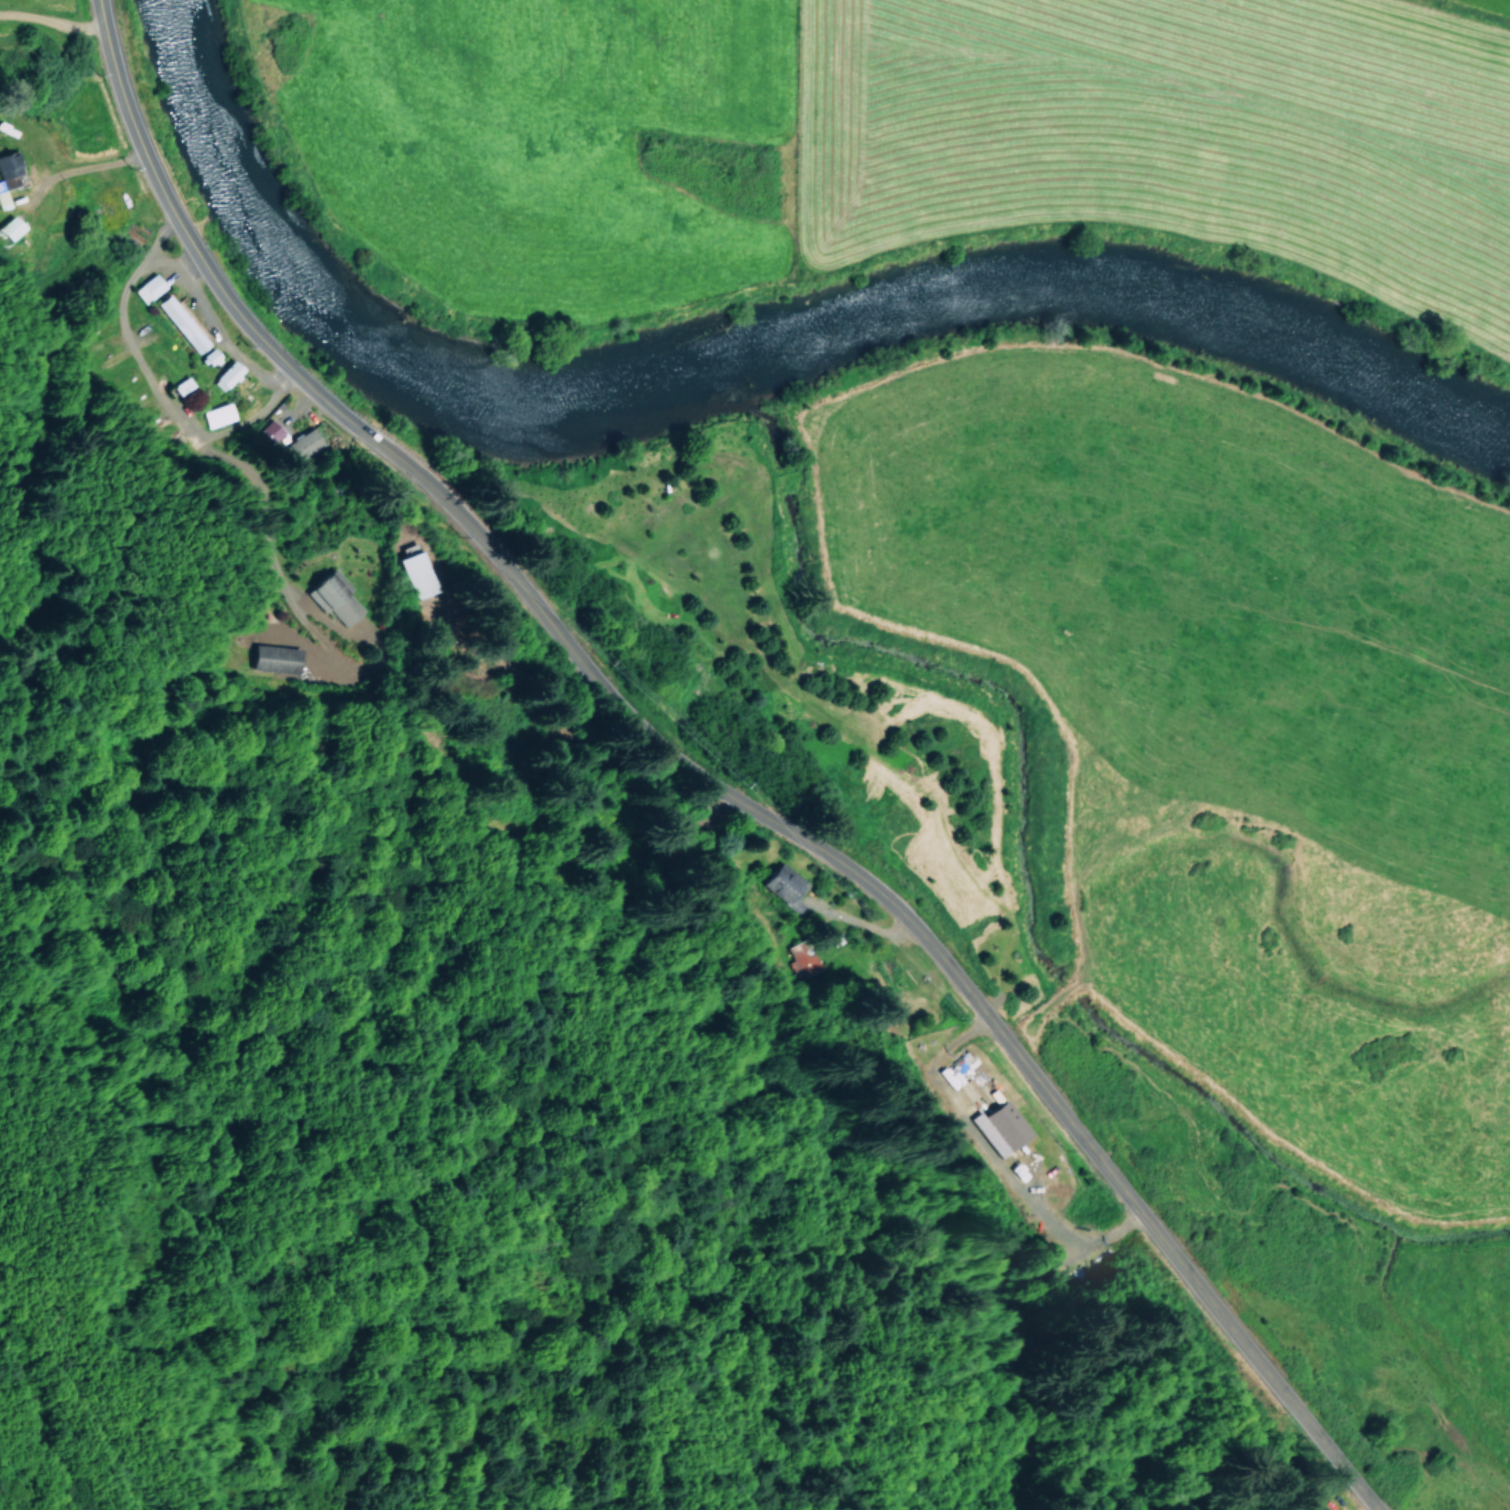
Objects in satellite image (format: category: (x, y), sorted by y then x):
crop: (44, 7)
crop: (907, 133)
building: (13, 226)
building: (149, 287)
building: (183, 322)
river: (742, 365)
building: (228, 374)
building: (219, 414)
road: (209, 424)
building: (273, 430)
building: (307, 443)
building: (417, 574)
building: (335, 599)
building: (276, 657)
road: (708, 776)
crop: (1212, 784)
building: (785, 885)
building: (802, 958)
building: (1001, 1127)

